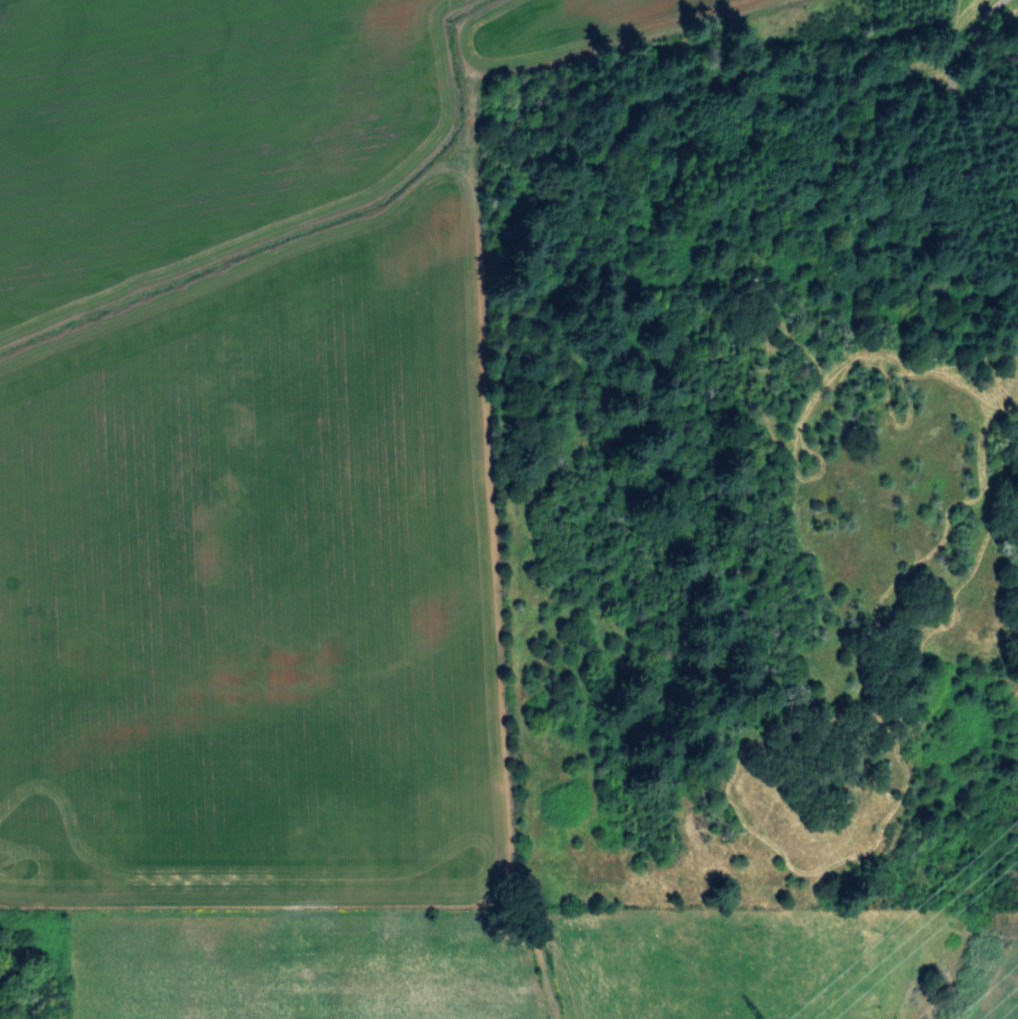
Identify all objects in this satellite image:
road: (921, 143)
crop: (307, 564)

